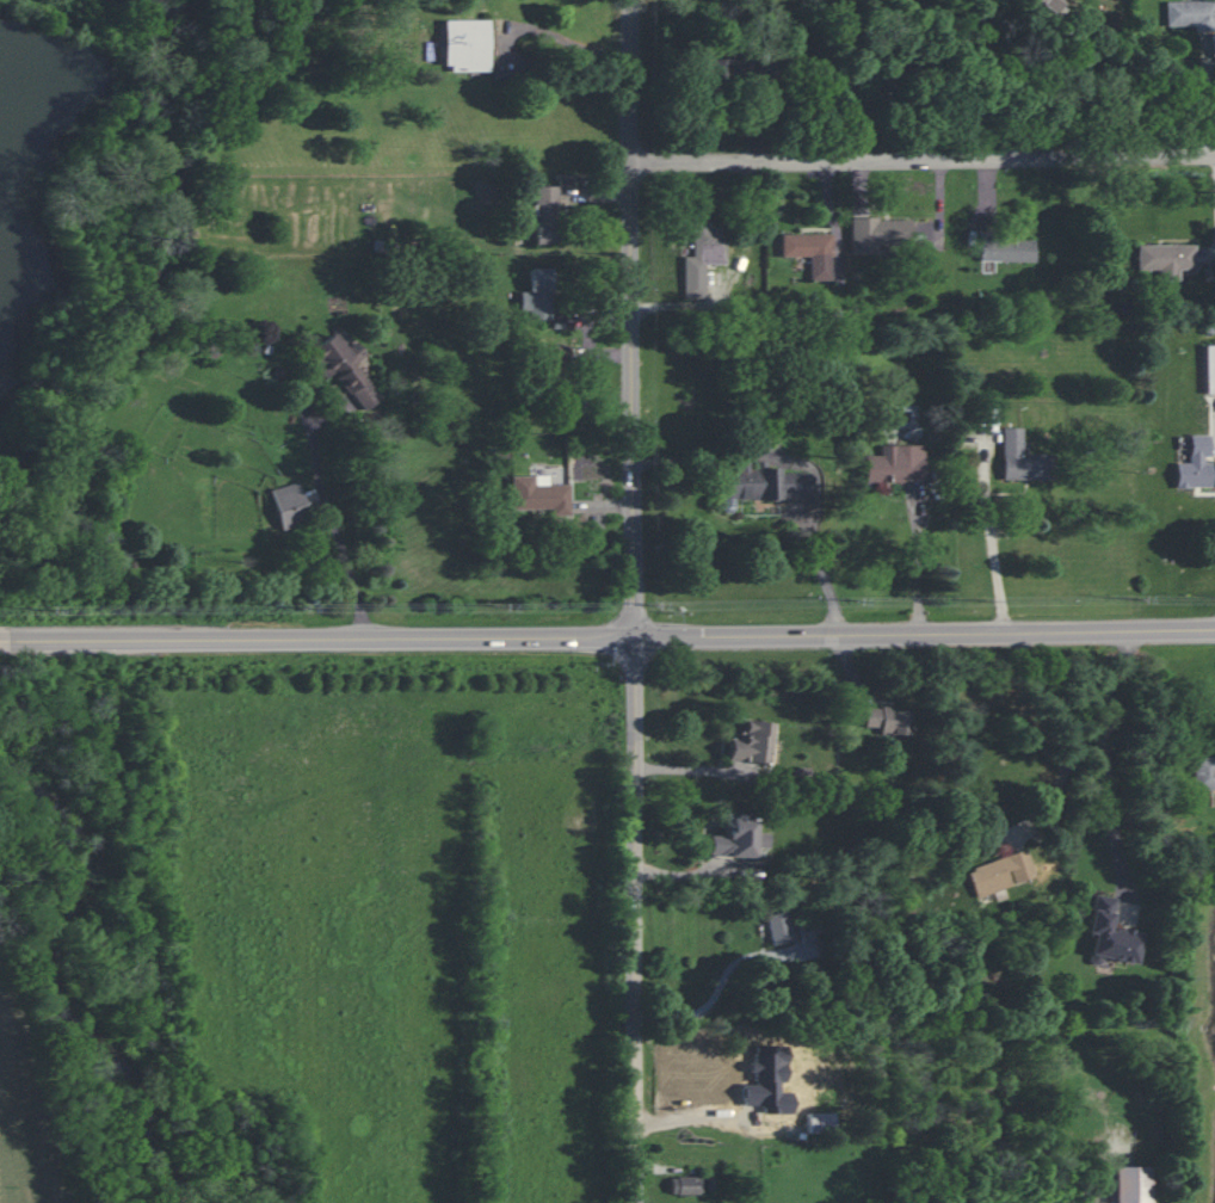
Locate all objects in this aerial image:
building: (1051, 4)
building: (1191, 14)
road: (565, 41)
building: (465, 45)
building: (733, 72)
building: (890, 74)
road: (1094, 76)
building: (778, 94)
road: (1211, 94)
road: (881, 99)
road: (760, 125)
road: (921, 160)
road: (991, 197)
road: (943, 212)
building: (545, 214)
road: (840, 221)
building: (880, 235)
building: (1006, 251)
building: (812, 253)
building: (704, 258)
road: (1204, 258)
building: (1166, 260)
road: (736, 276)
road: (721, 280)
building: (535, 294)
road: (631, 319)
building: (559, 354)
building: (345, 368)
building: (1209, 368)
building: (1022, 458)
building: (895, 464)
building: (1195, 464)
building: (763, 482)
building: (537, 494)
building: (289, 506)
road: (334, 520)
road: (994, 537)
road: (913, 568)
road: (822, 570)
road: (10, 638)
road: (617, 638)
traffic signals: (635, 638)
building: (887, 720)
building: (751, 744)
road: (1108, 747)
building: (1204, 775)
building: (736, 838)
building: (1000, 872)
road: (635, 920)
building: (778, 927)
building: (1110, 933)
building: (820, 1122)
building: (1130, 1184)
building: (686, 1185)

